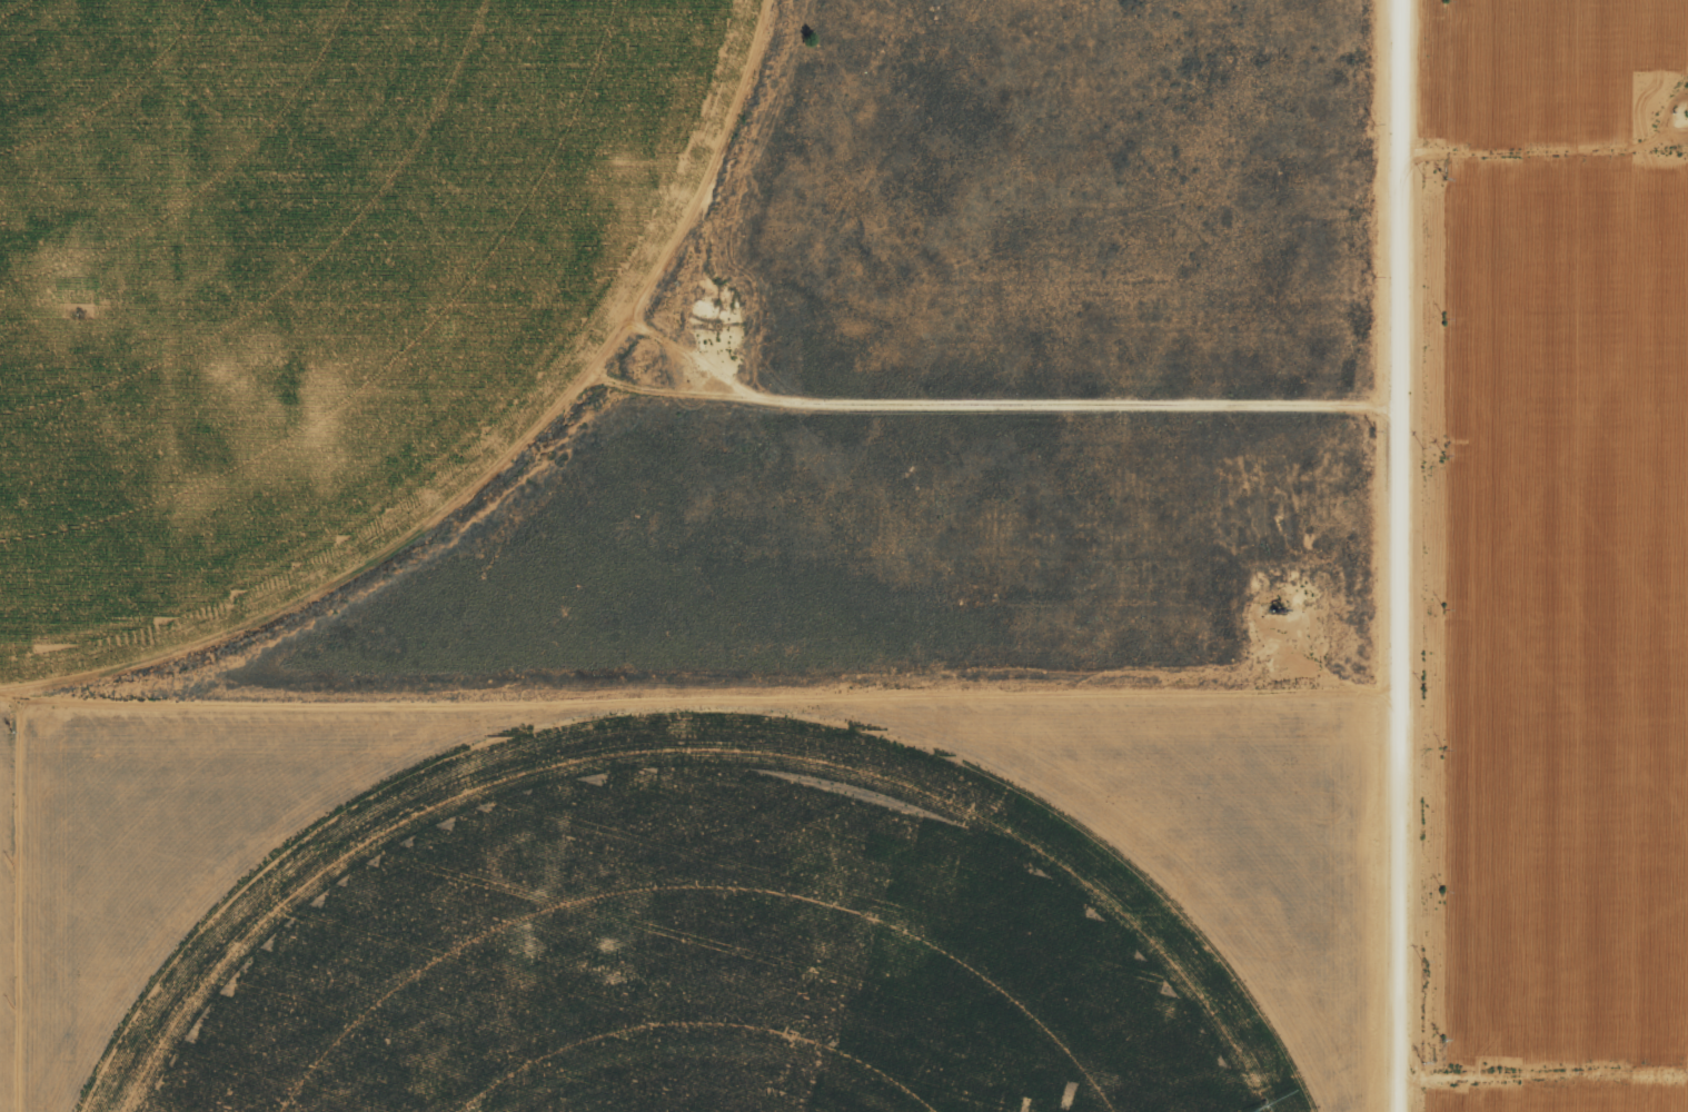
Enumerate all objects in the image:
road: (165, 336)
road: (1404, 556)
petroleum well: (1273, 610)
road: (702, 676)

